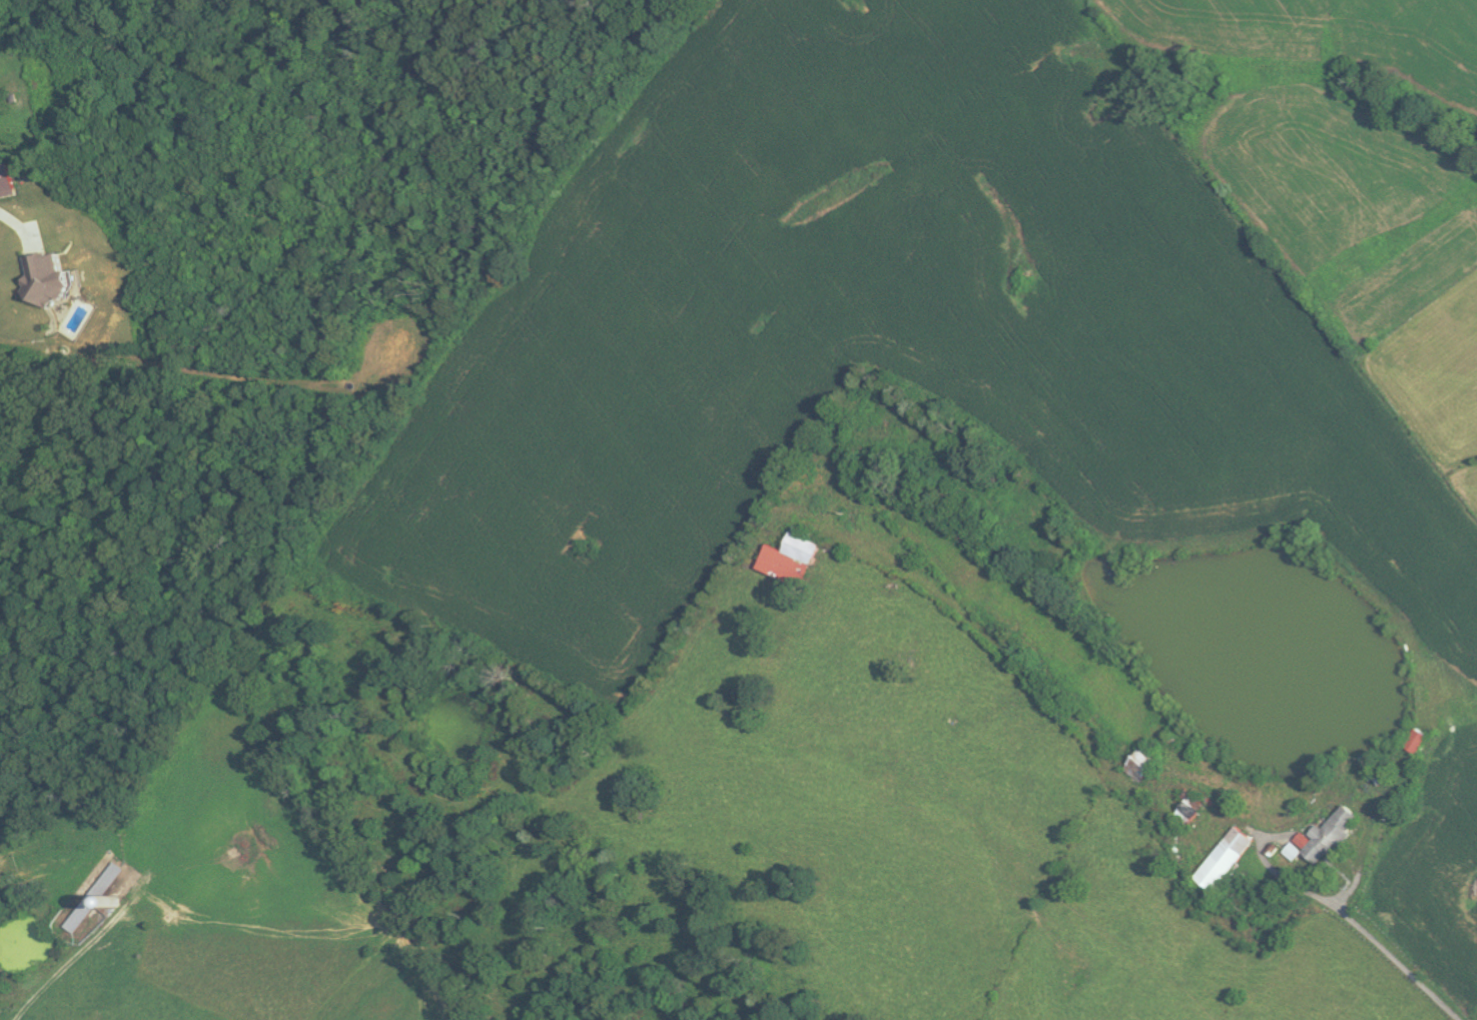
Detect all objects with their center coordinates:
building: (7, 182)
road: (3, 212)
building: (44, 279)
building: (791, 561)
building: (1418, 741)
building: (1143, 764)
building: (1330, 835)
building: (1296, 852)
building: (1228, 859)
road: (1398, 962)

